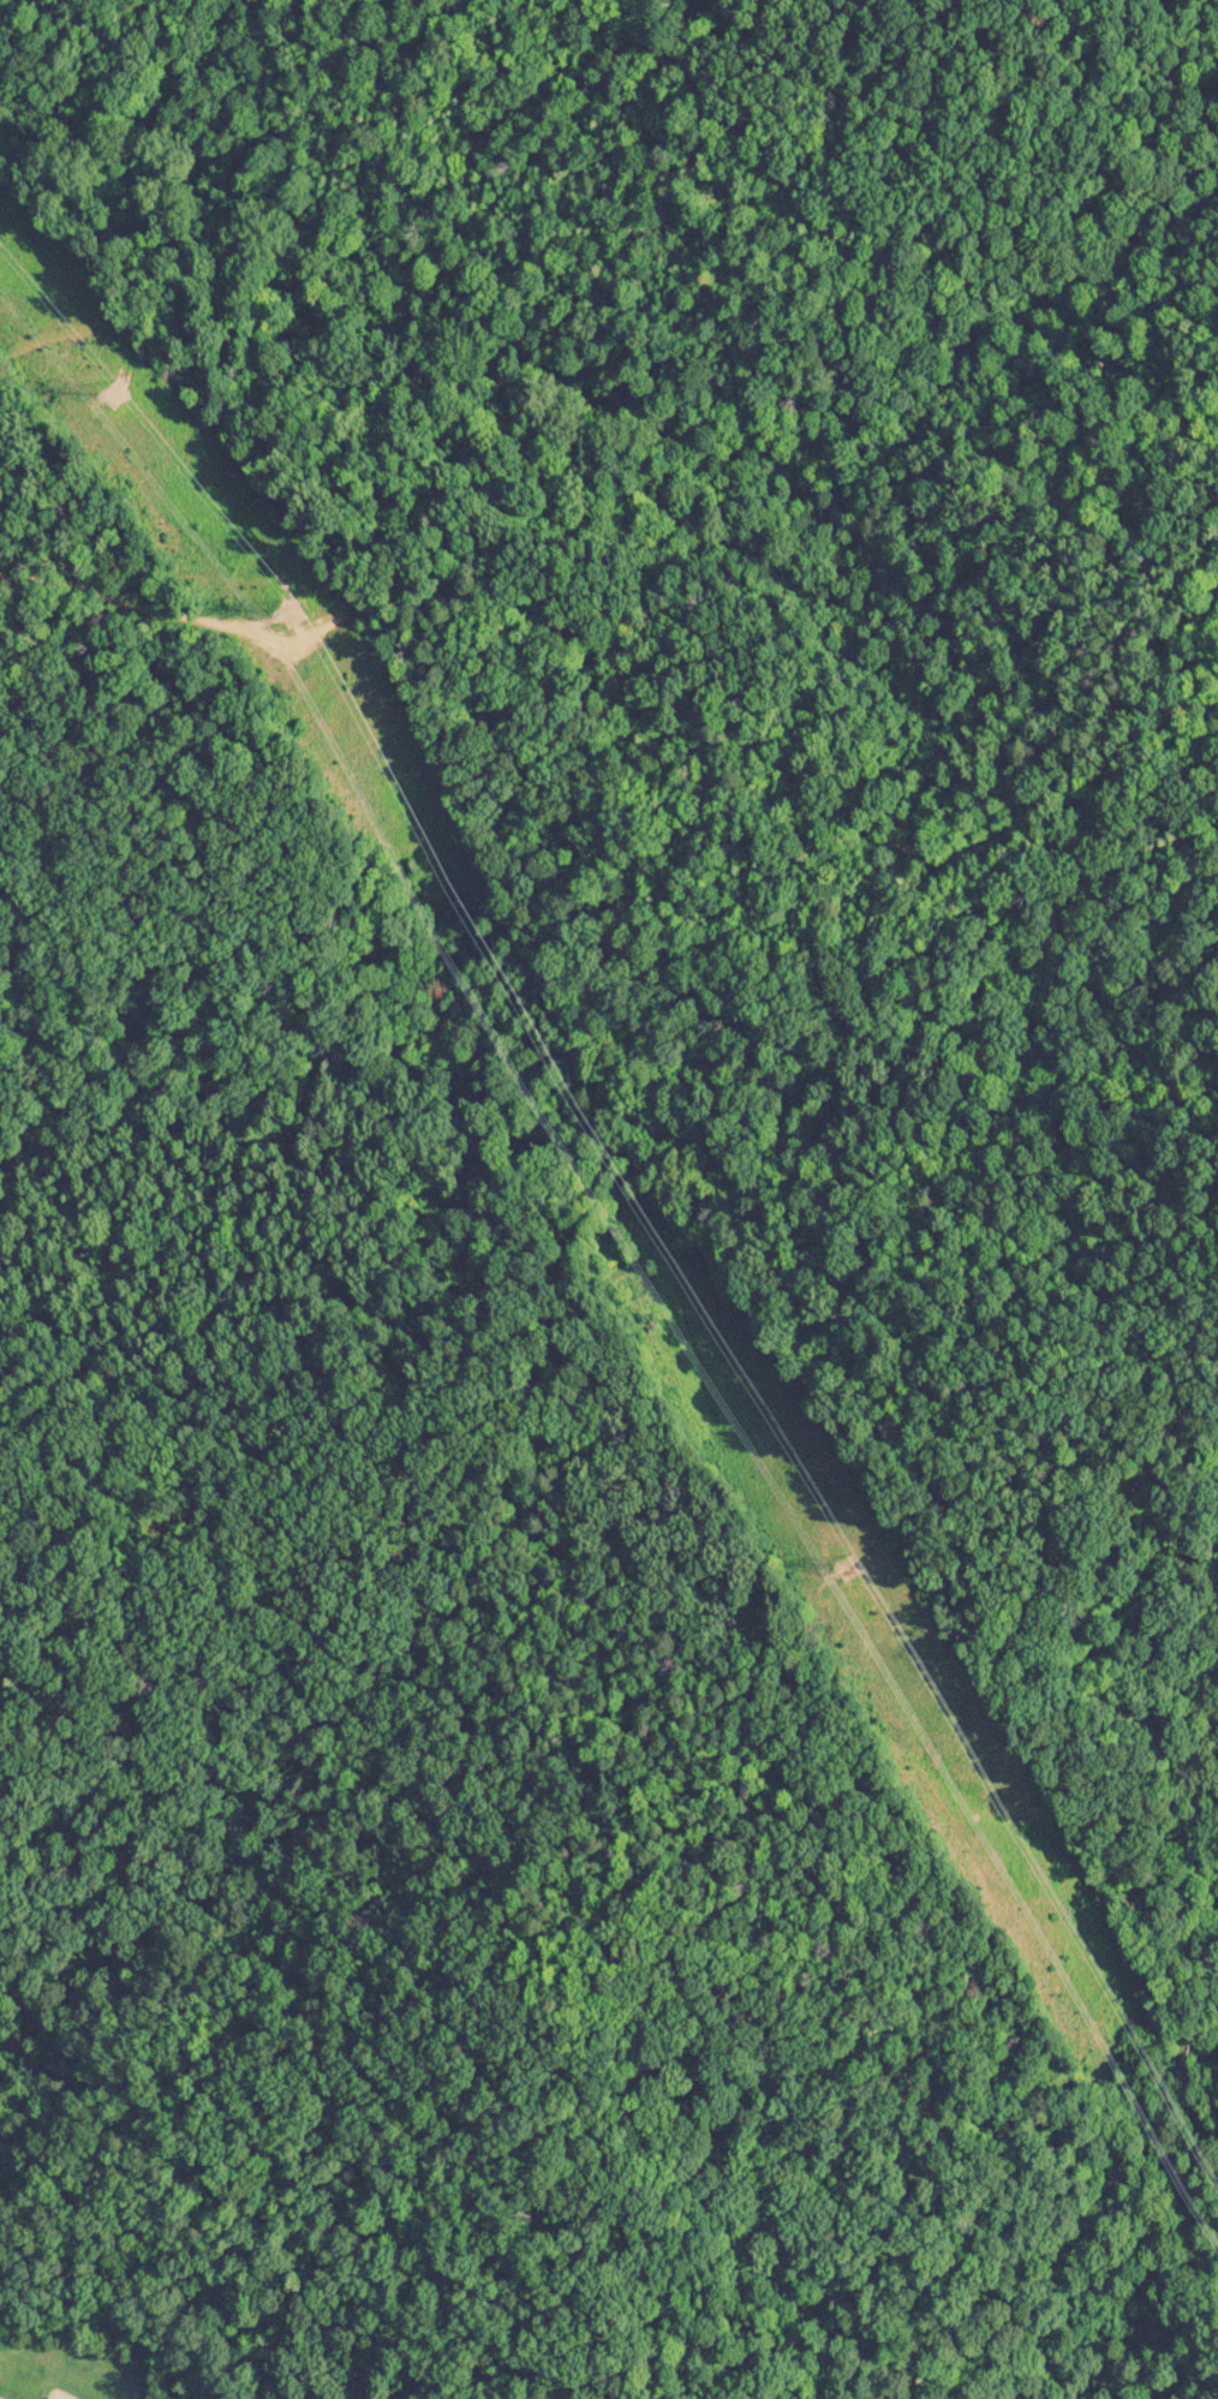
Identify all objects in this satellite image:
building: (54, 2398)

